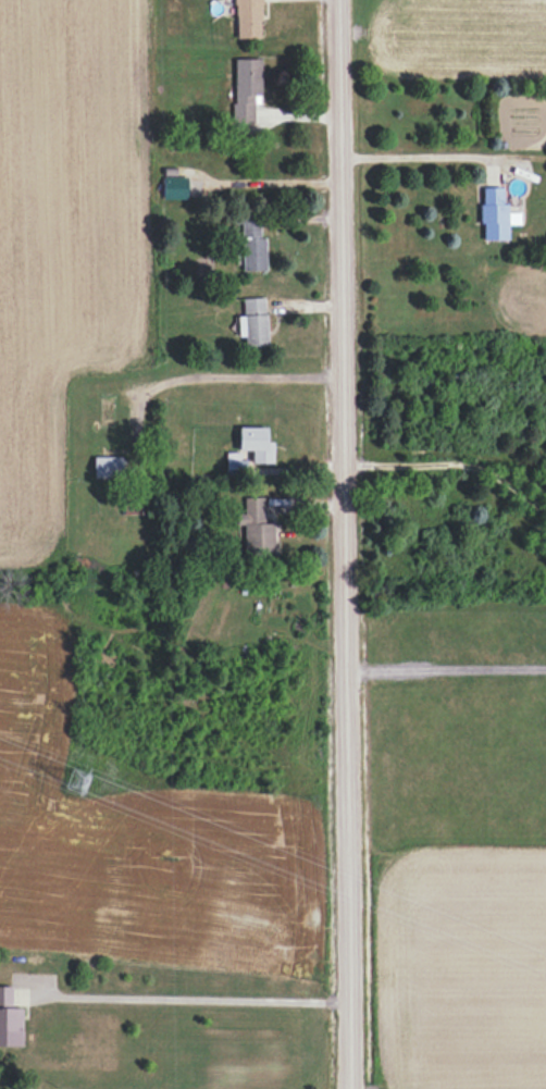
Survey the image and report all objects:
building: (247, 18)
building: (246, 89)
road: (419, 157)
building: (174, 187)
building: (495, 214)
building: (252, 247)
building: (252, 322)
road: (228, 378)
building: (256, 444)
road: (450, 463)
building: (107, 467)
building: (258, 527)
road: (343, 544)
road: (445, 670)
road: (196, 1000)

